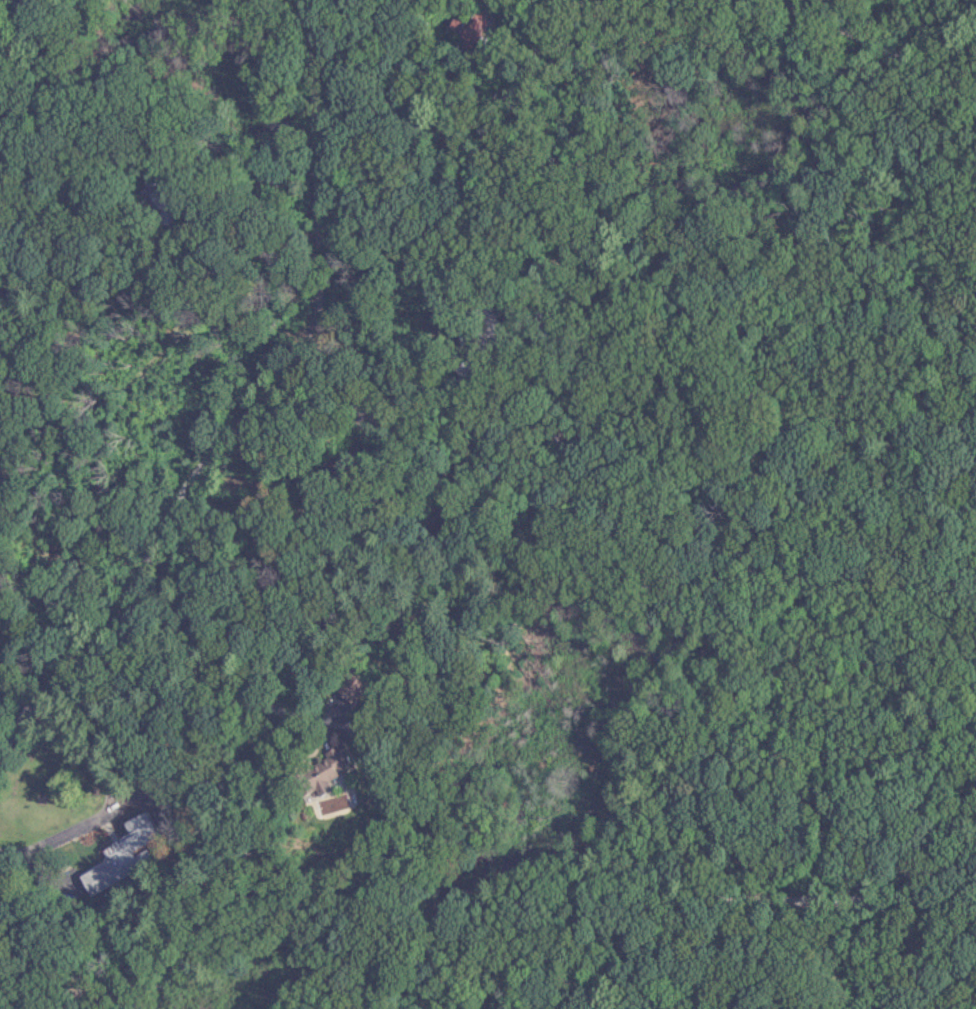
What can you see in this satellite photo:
building: (466, 27)
road: (867, 53)
road: (257, 413)
building: (347, 688)
road: (199, 693)
building: (320, 770)
road: (112, 821)
building: (107, 871)
road: (761, 908)

